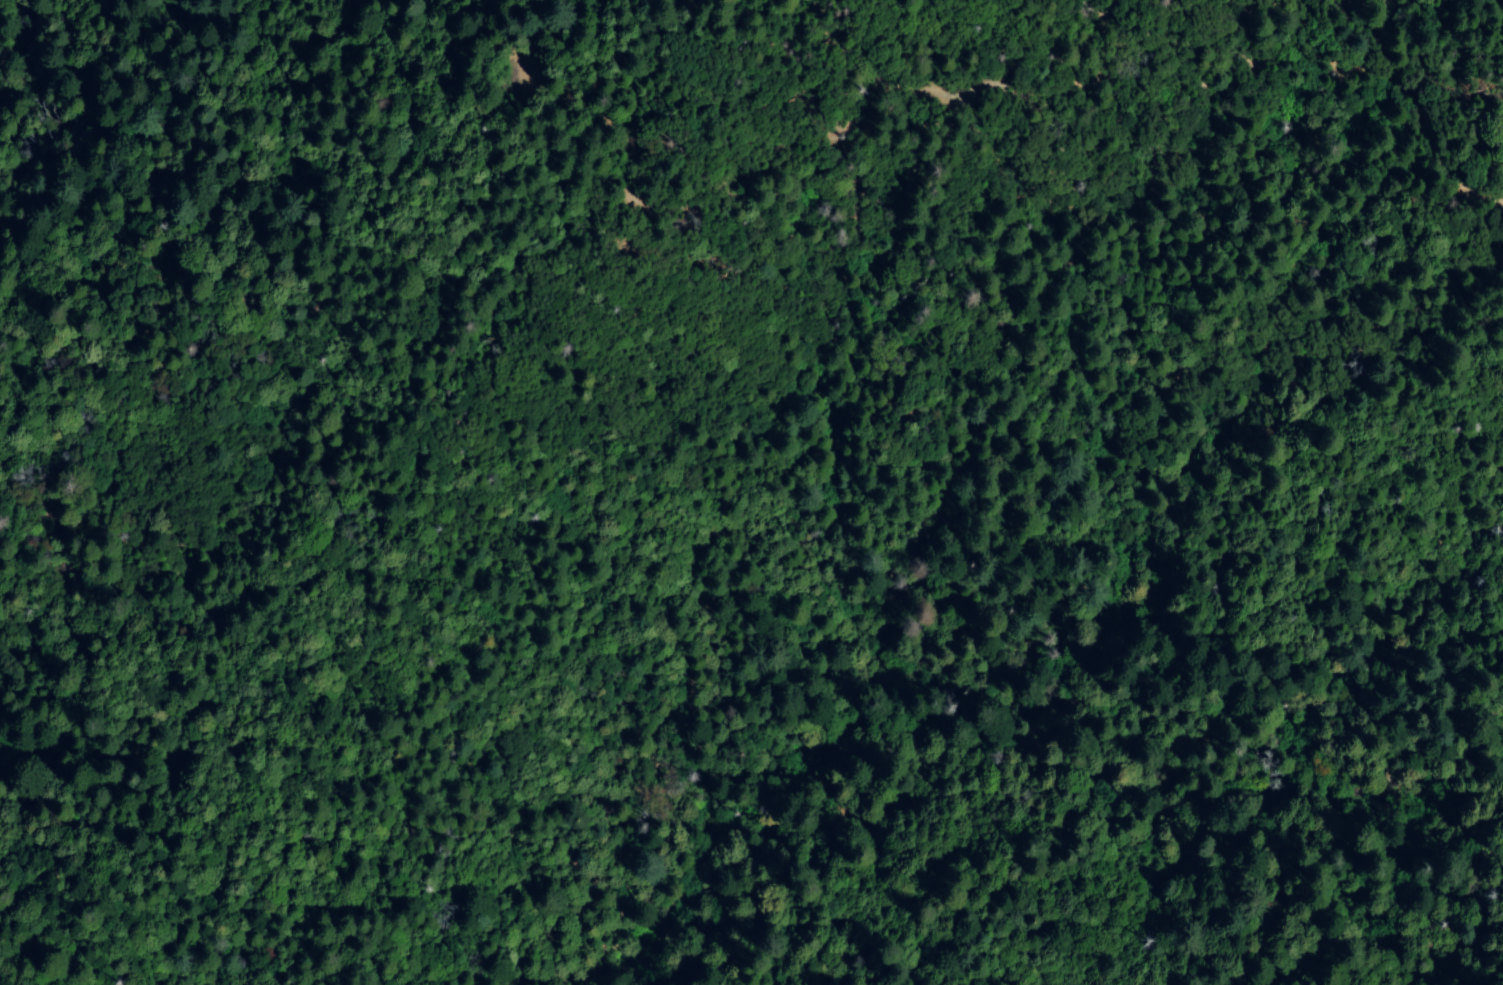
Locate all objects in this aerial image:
road: (1085, 55)

